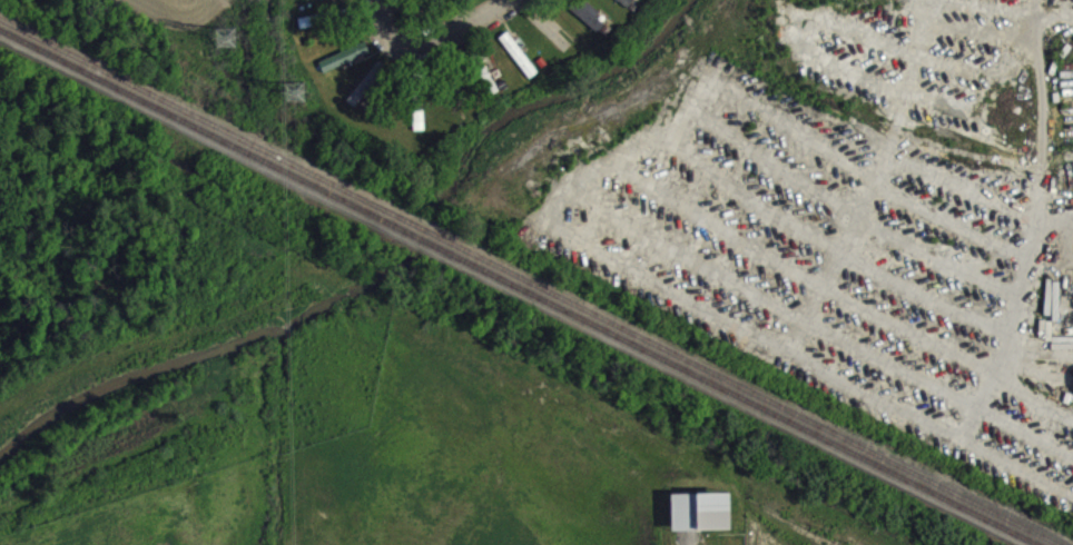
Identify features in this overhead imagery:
building: (314, 0)
building: (621, 8)
building: (587, 23)
power tower: (226, 33)
road: (433, 43)
building: (519, 65)
building: (345, 67)
power tower: (298, 90)
building: (367, 95)
road: (654, 123)
building: (419, 129)
road: (1044, 226)
railway: (532, 280)
railway: (520, 286)
road: (1017, 464)
building: (701, 522)

